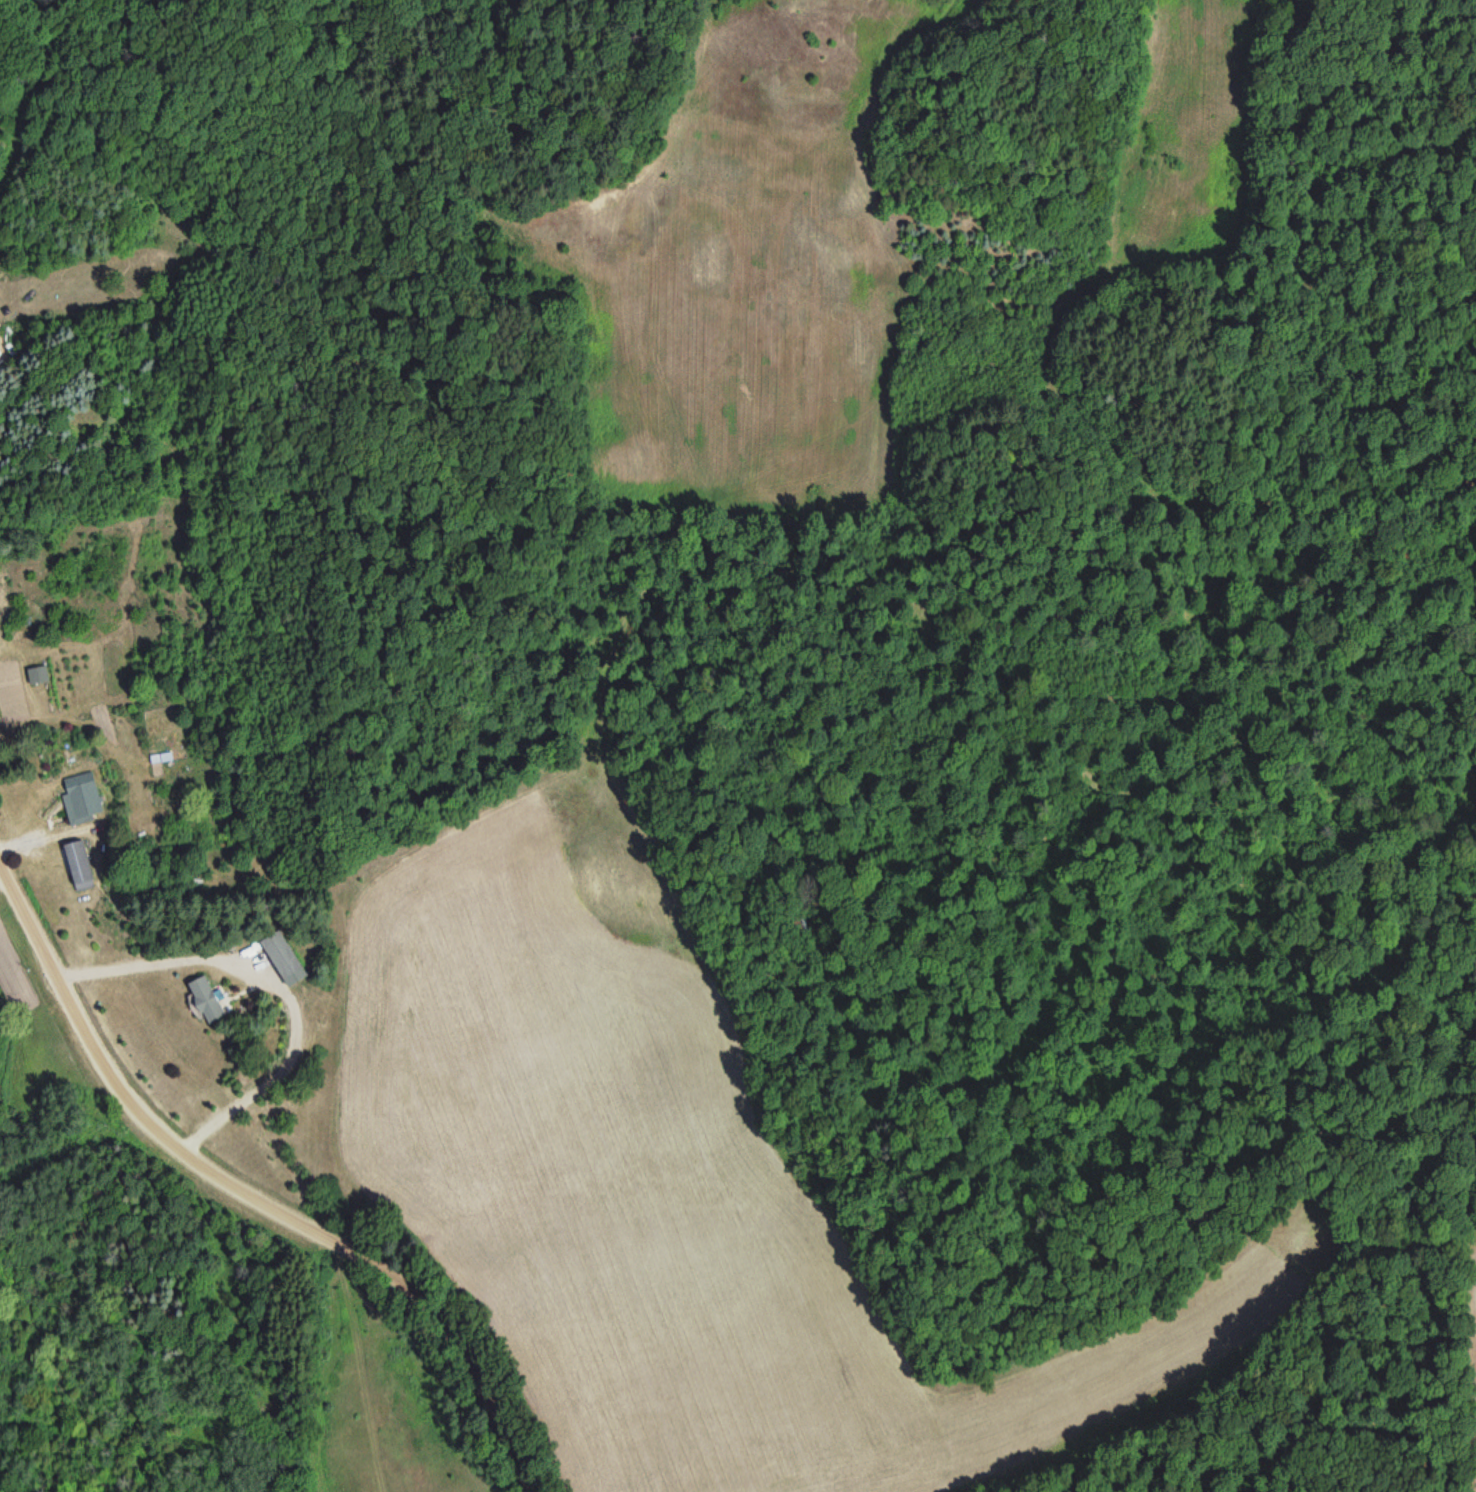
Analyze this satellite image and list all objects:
building: (35, 676)
building: (163, 759)
building: (80, 800)
building: (78, 863)
building: (279, 959)
building: (201, 1000)
building: (296, 1109)
road: (255, 1193)

